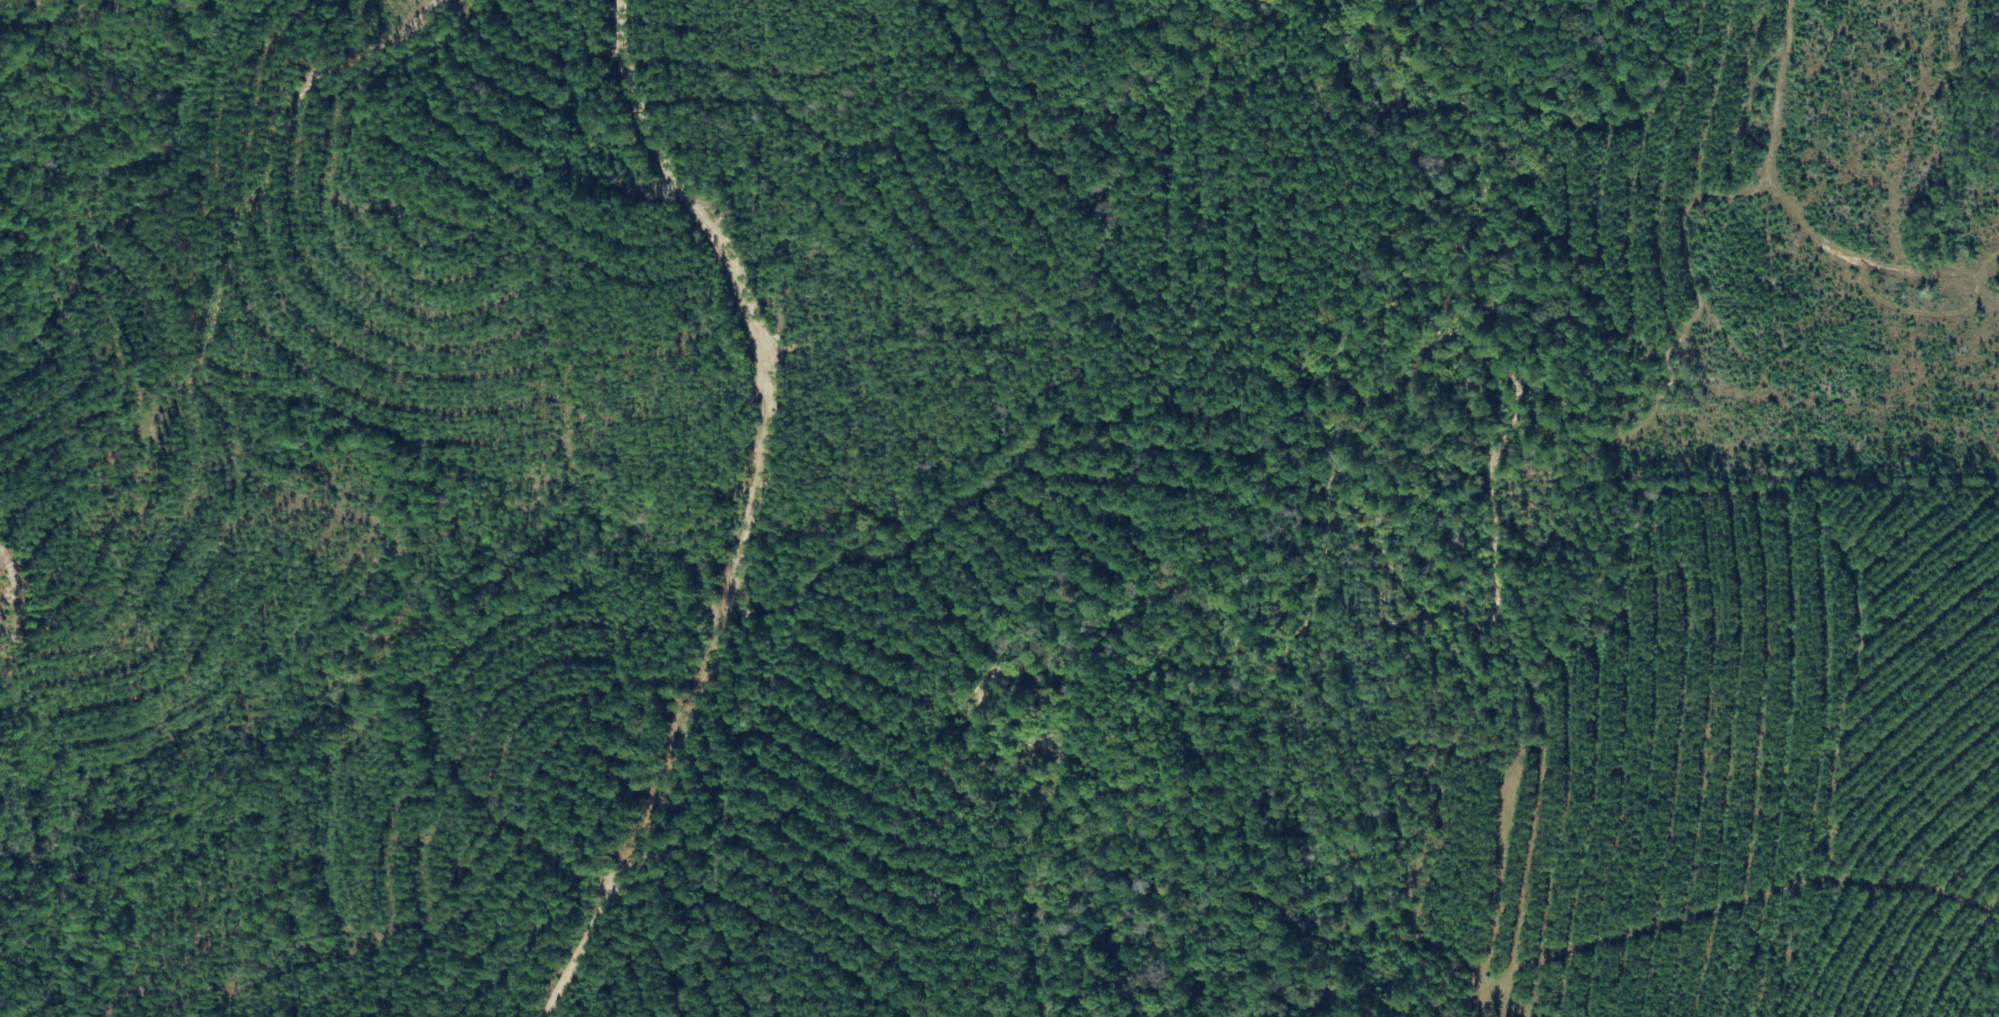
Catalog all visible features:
road: (698, 517)

